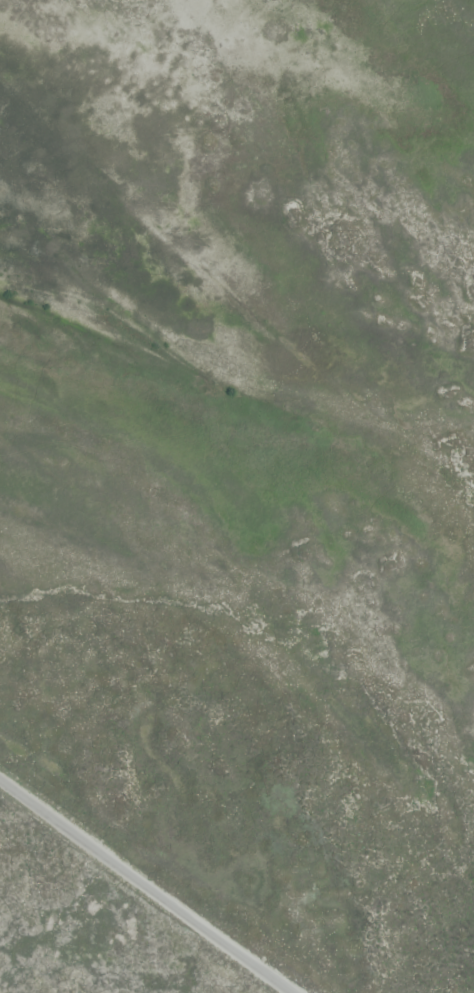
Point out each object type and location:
park: (456, 382)
park: (228, 652)
road: (146, 886)
park: (82, 933)

